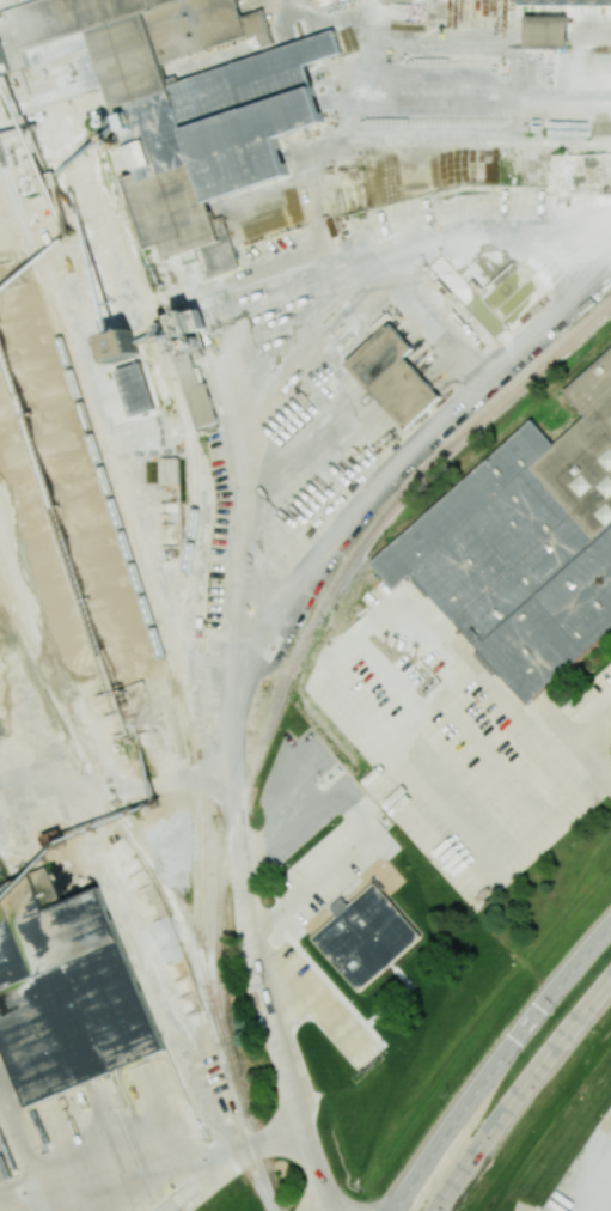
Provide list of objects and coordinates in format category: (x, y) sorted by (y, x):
building: (570, 4)
building: (545, 31)
building: (170, 101)
road: (411, 242)
building: (120, 346)
building: (392, 376)
building: (135, 389)
building: (196, 392)
railway: (190, 426)
road: (411, 443)
building: (169, 469)
building: (525, 544)
railway: (136, 576)
railway: (303, 638)
road: (575, 738)
road: (237, 763)
road: (413, 767)
road: (362, 826)
railway: (170, 897)
building: (366, 936)
building: (66, 990)
railway: (149, 992)
road: (499, 1066)
road: (520, 1093)
road: (176, 1156)
road: (33, 1191)
road: (323, 1207)

